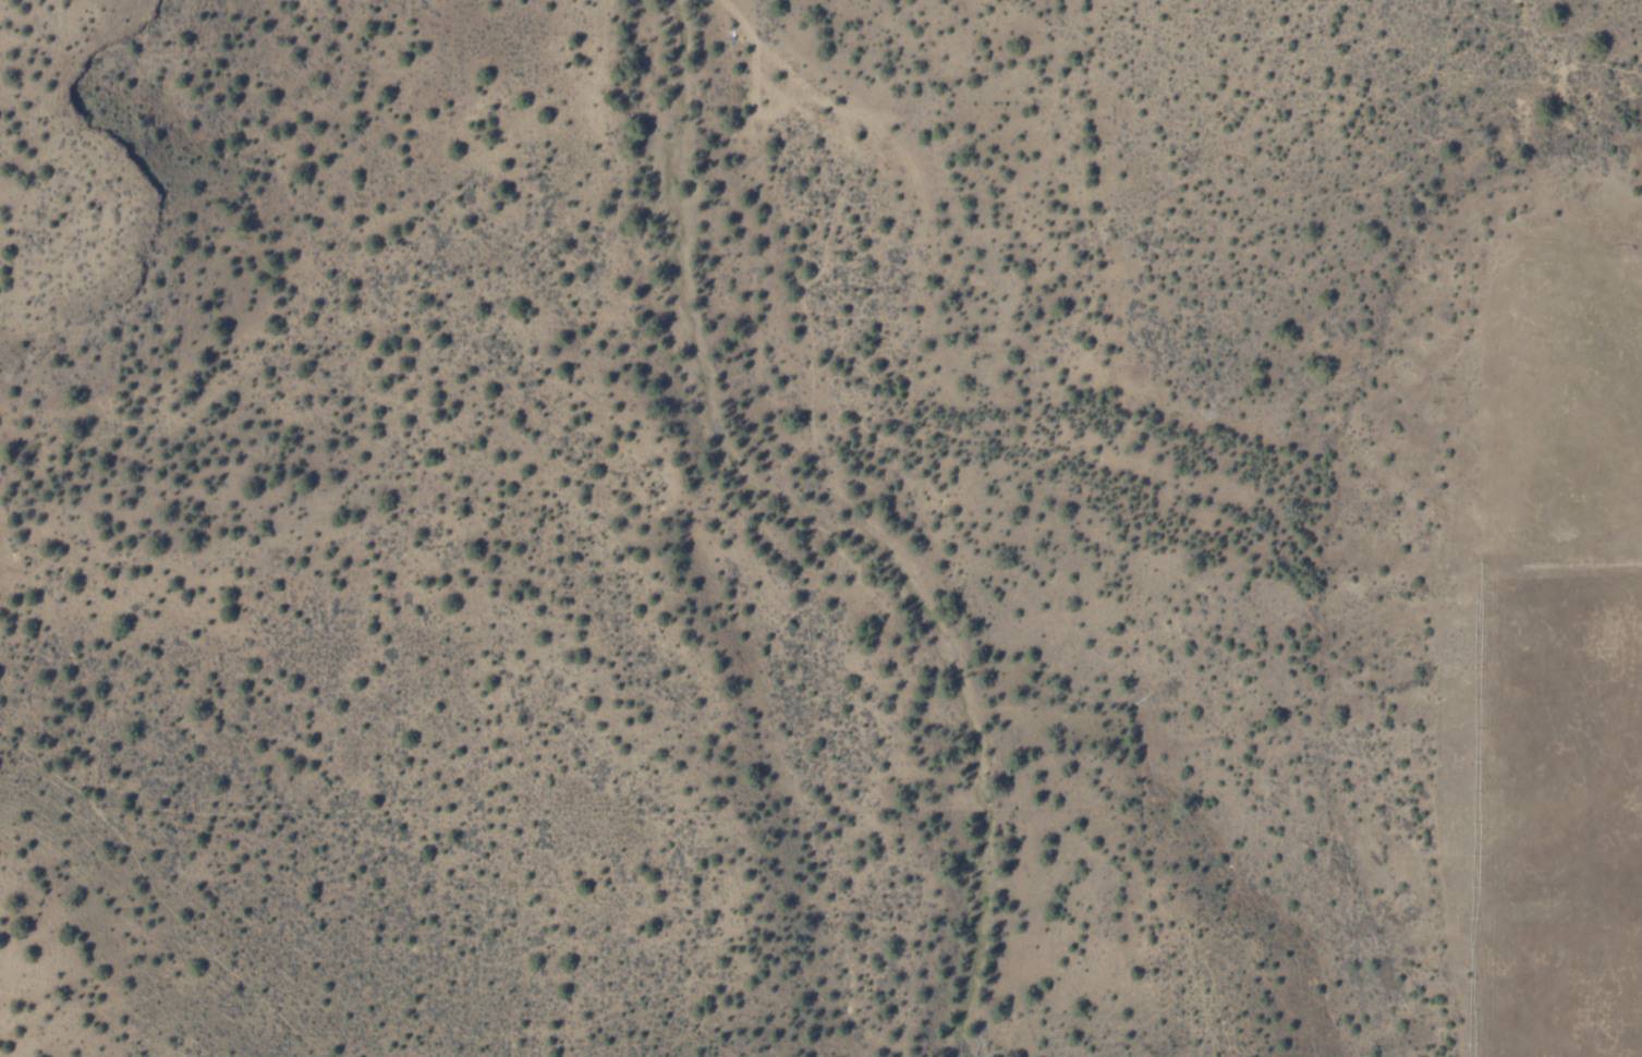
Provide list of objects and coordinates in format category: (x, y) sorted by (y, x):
crop: (1538, 611)

